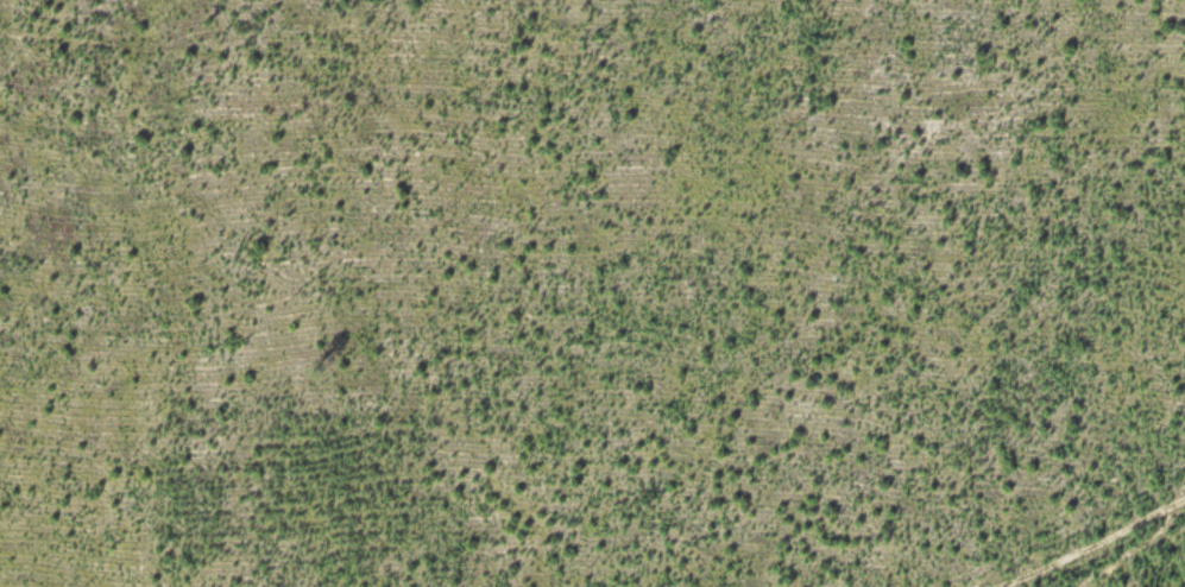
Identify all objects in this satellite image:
road: (1088, 542)

